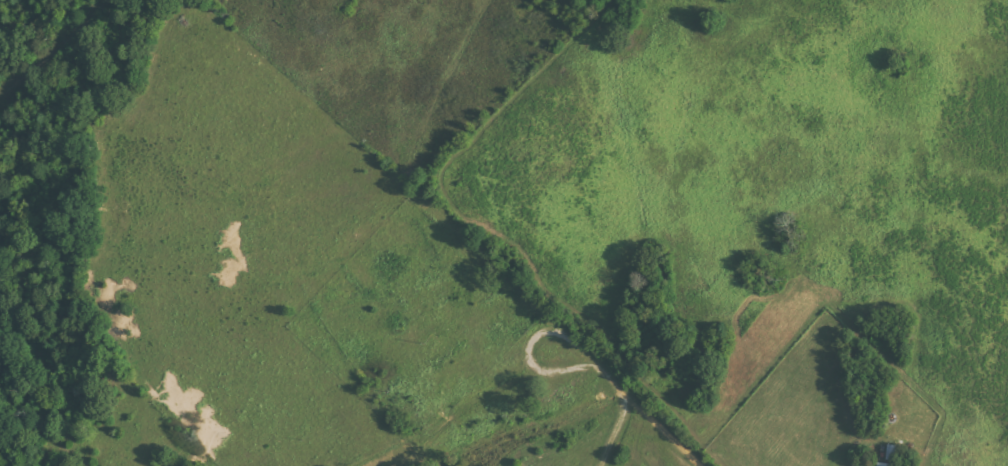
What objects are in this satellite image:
road: (980, 350)
road: (530, 376)
road: (691, 454)
building: (886, 464)

